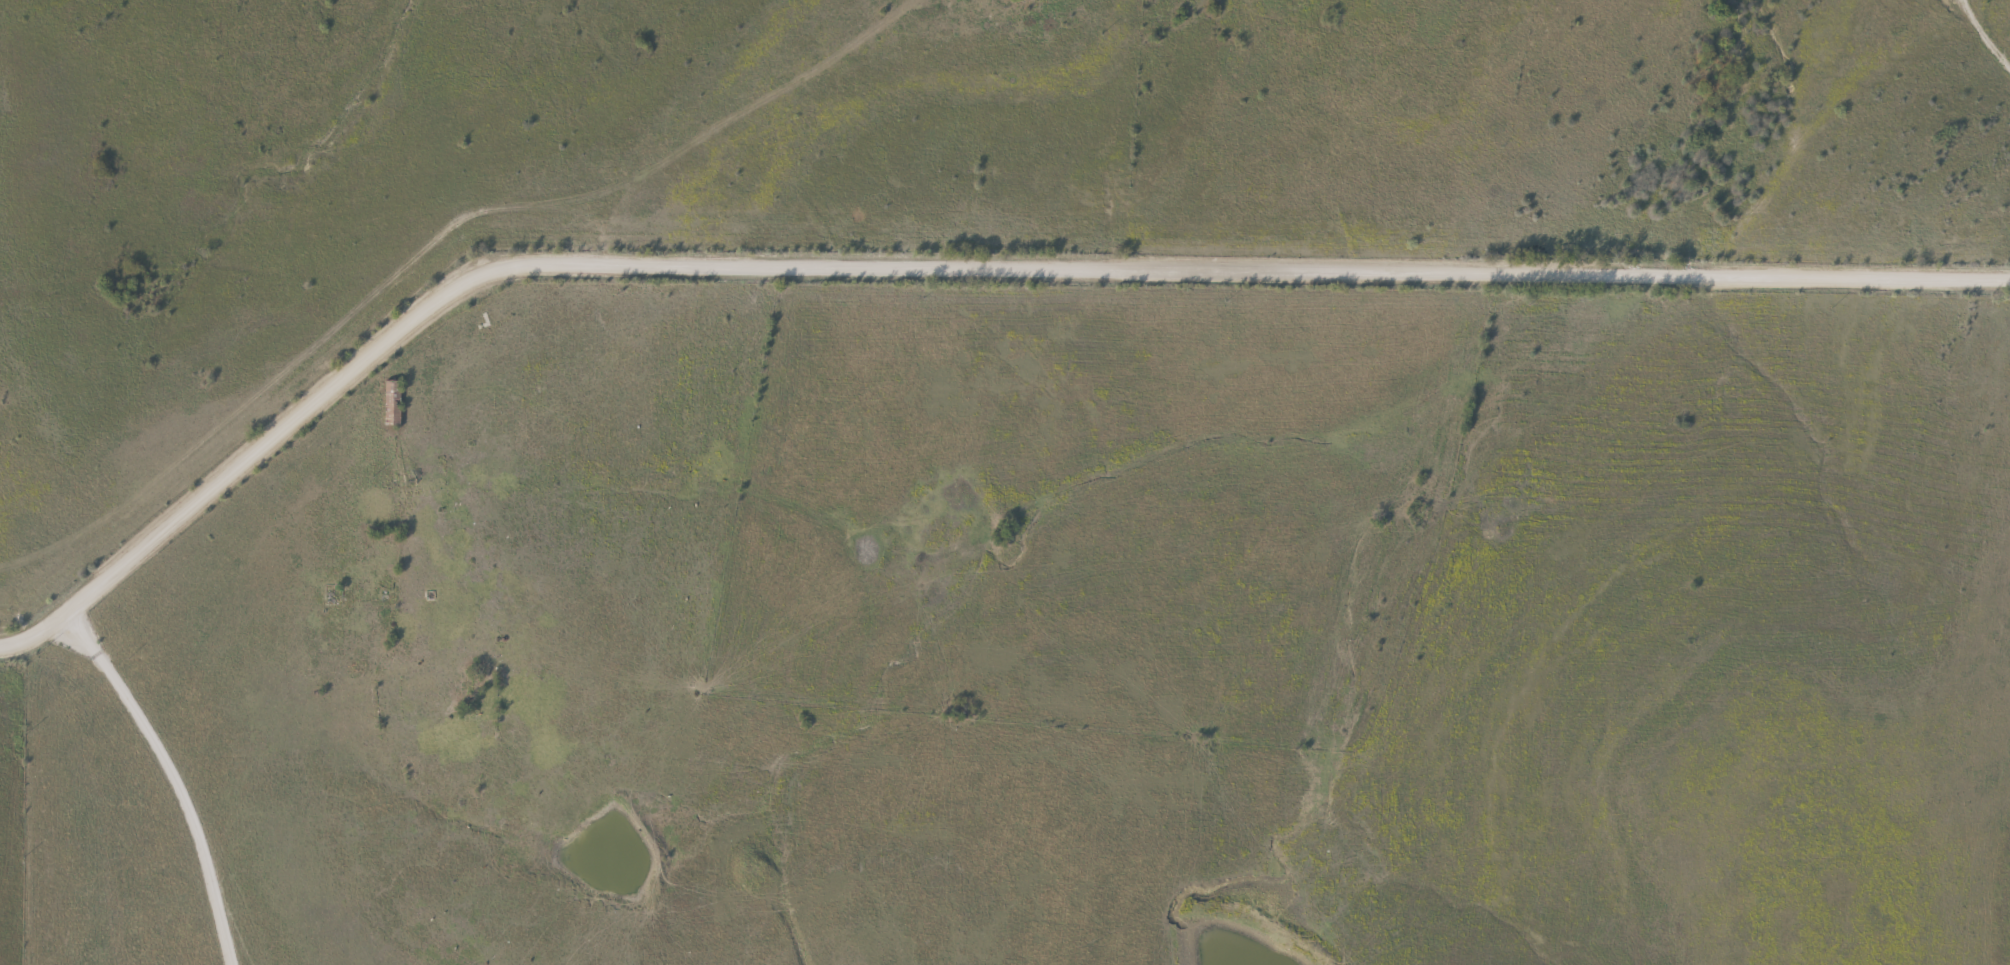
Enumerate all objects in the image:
road: (1982, 39)
road: (942, 266)
building: (388, 404)
road: (174, 774)

